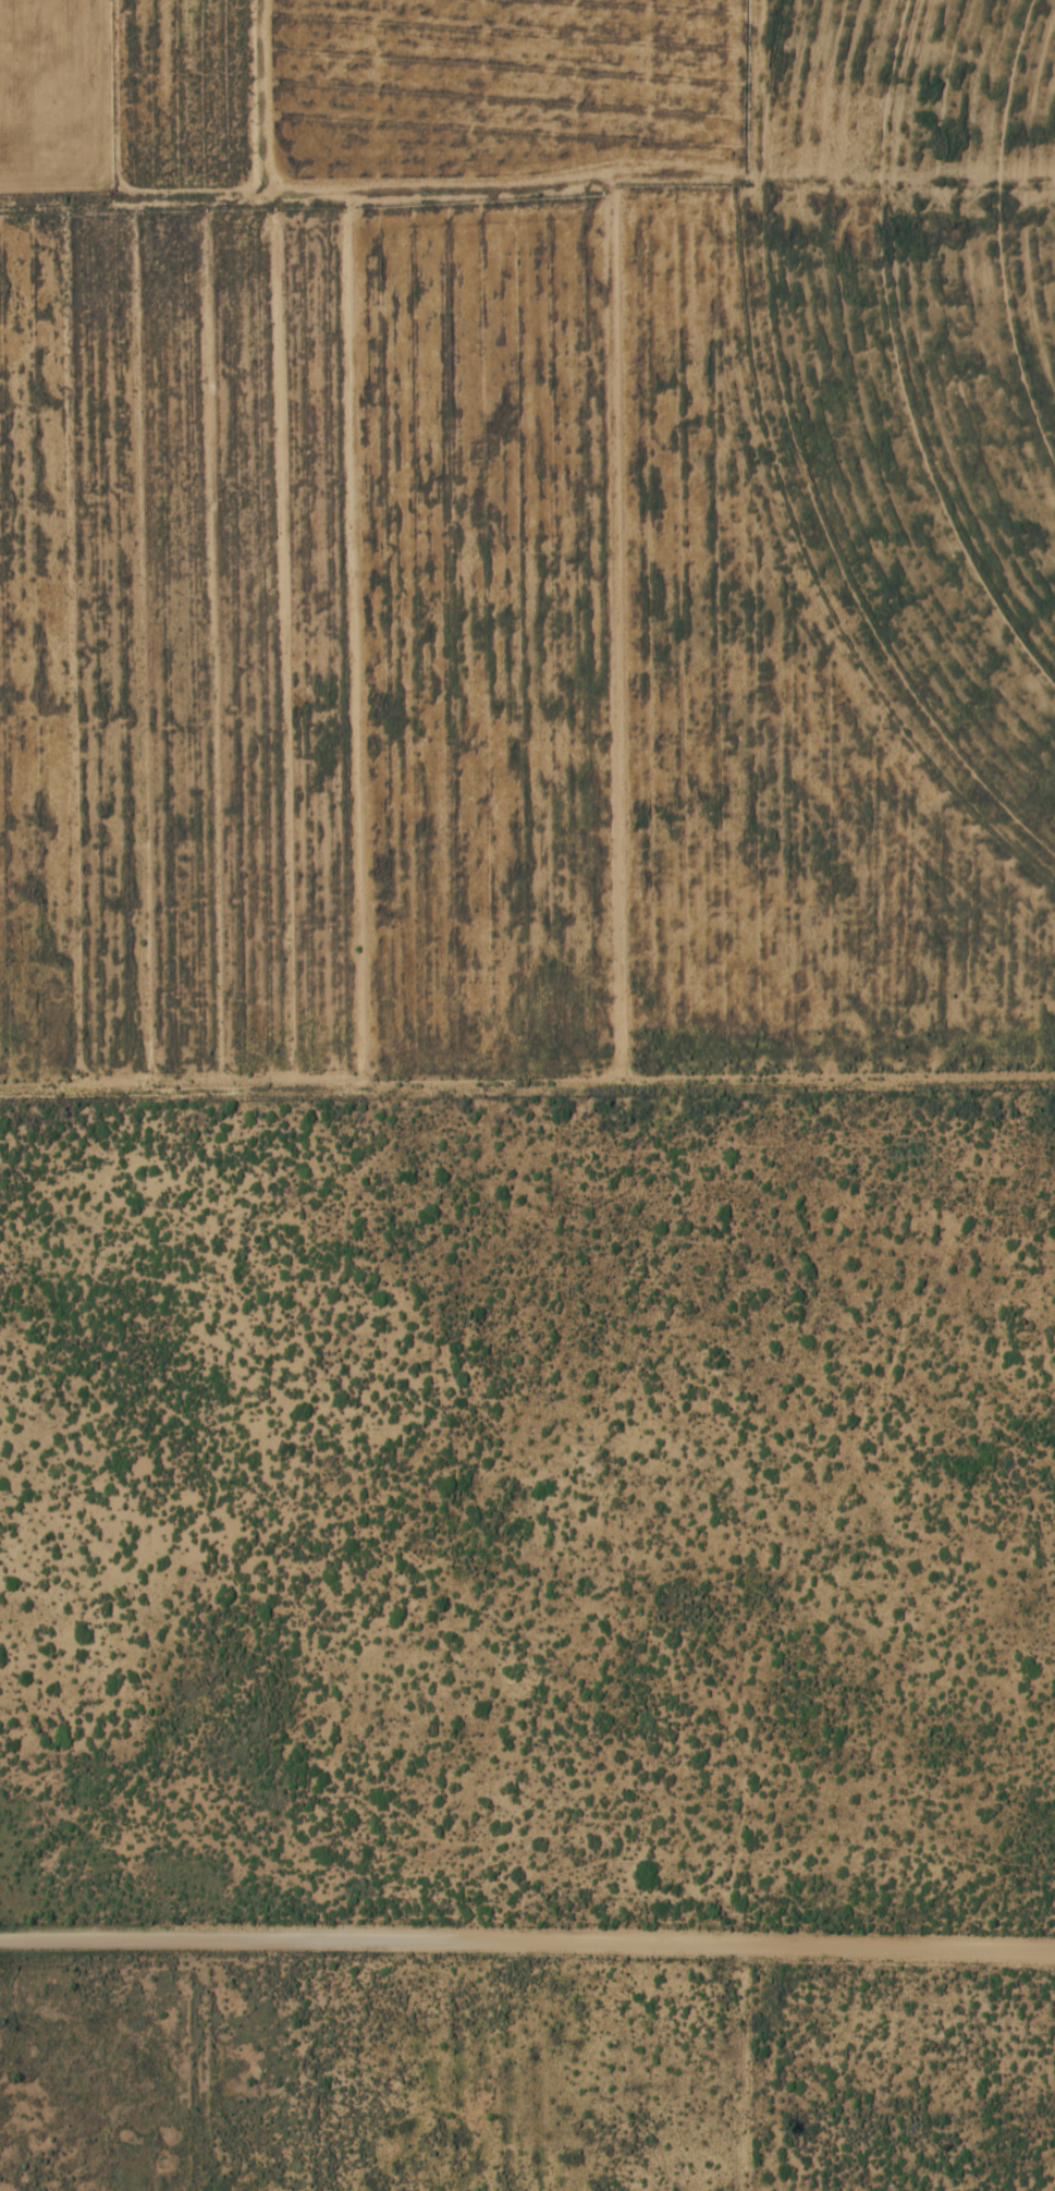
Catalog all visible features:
road: (527, 1942)

